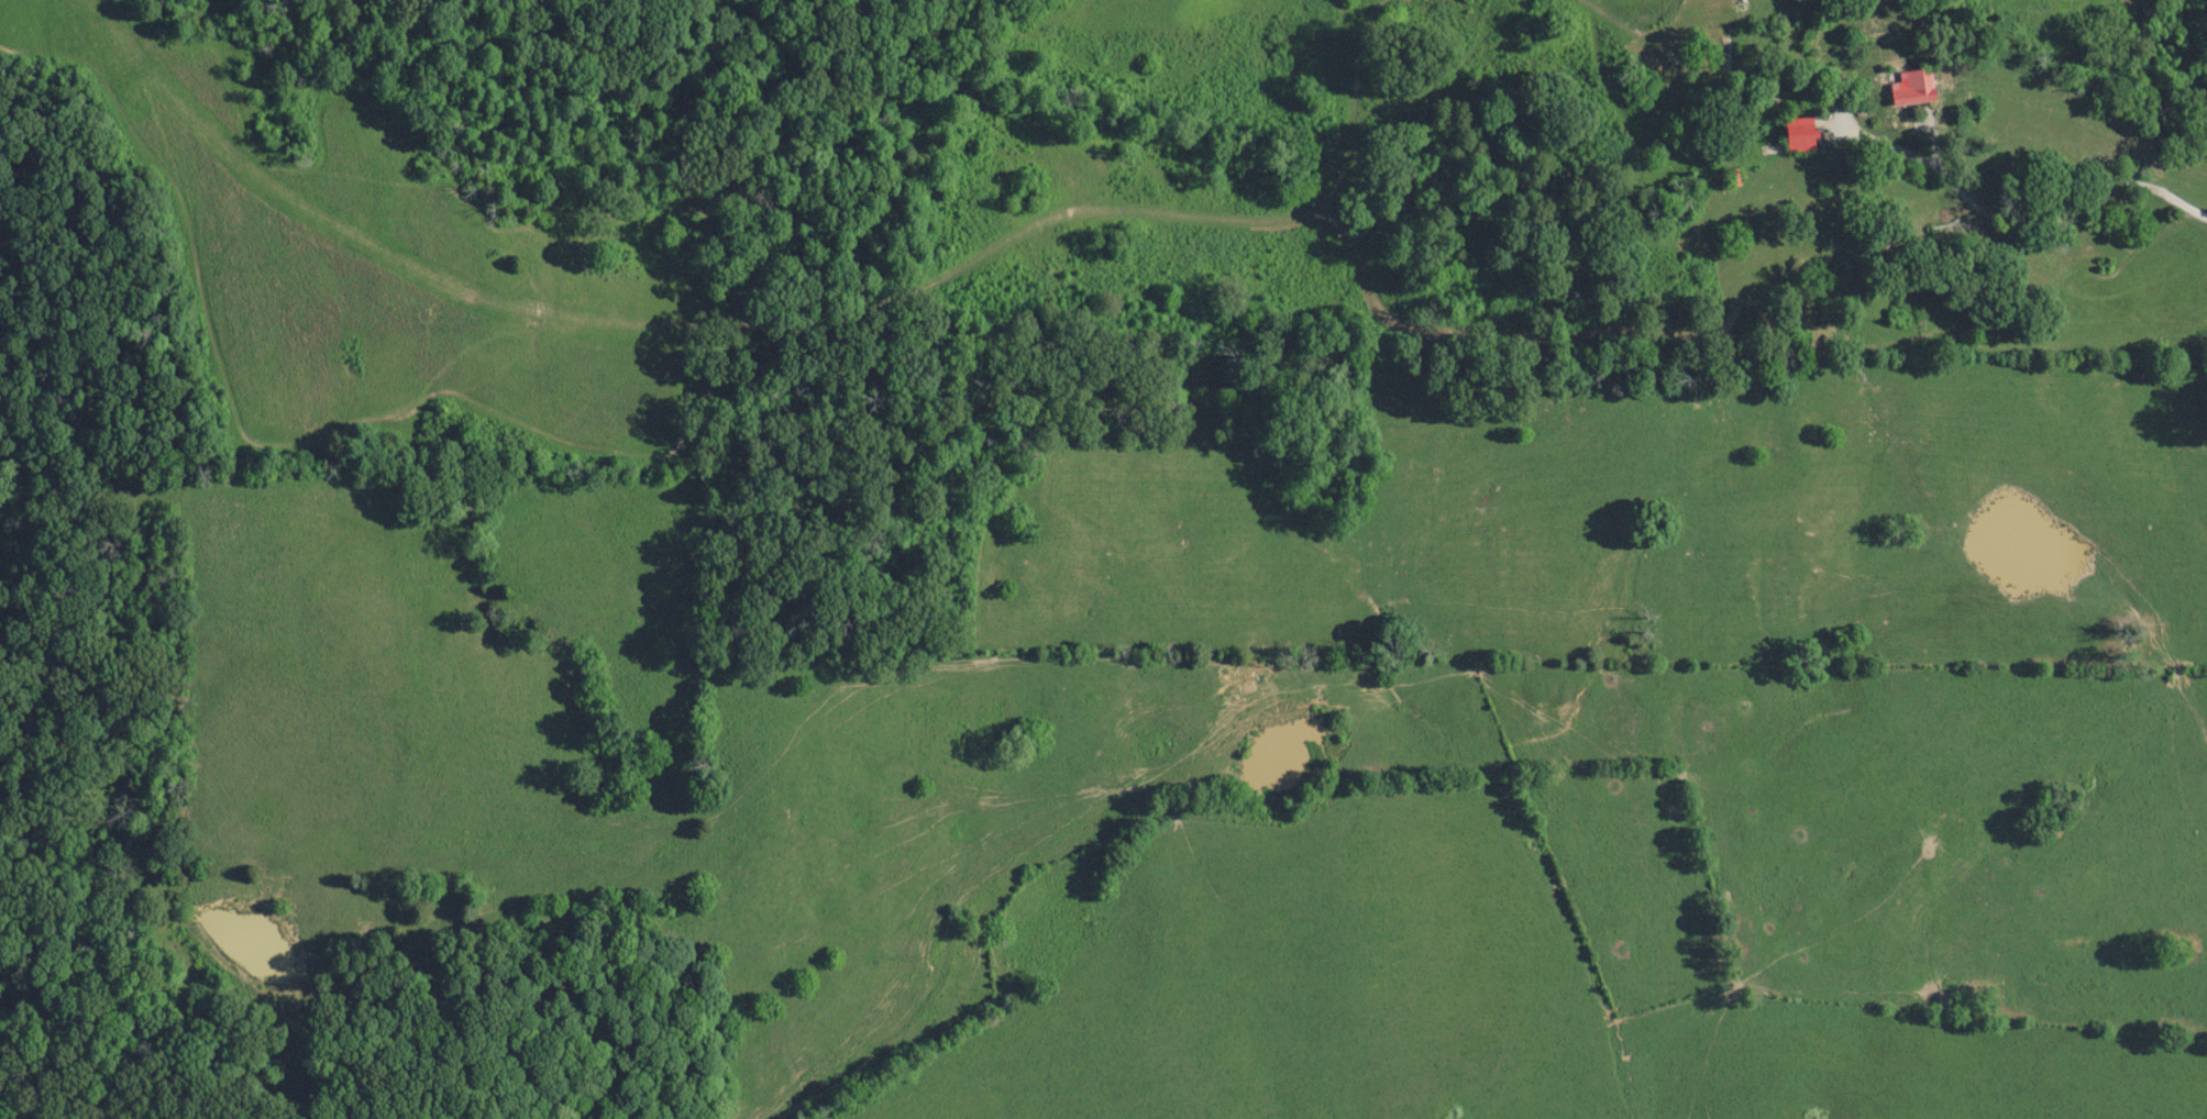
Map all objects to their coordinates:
building: (1909, 88)
building: (1796, 134)
road: (2029, 223)

